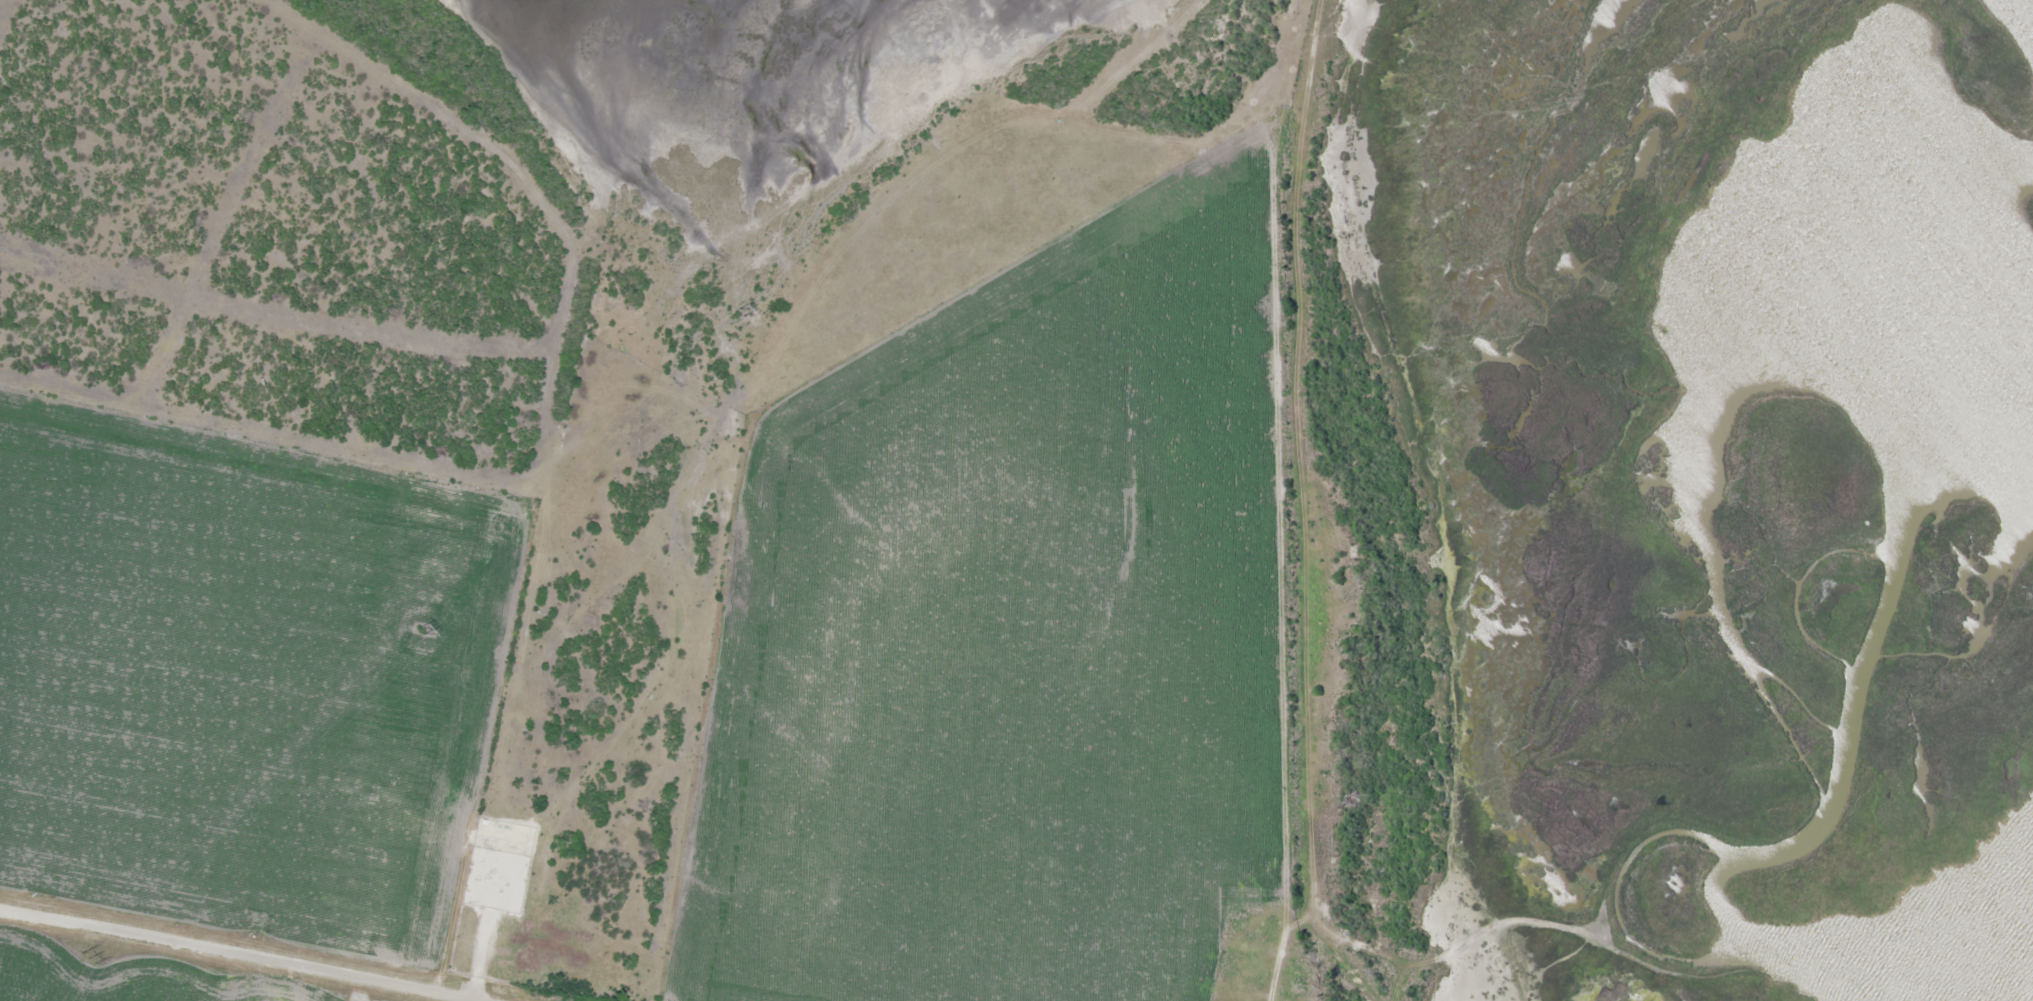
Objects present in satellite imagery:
power tower: (741, 312)
road: (1284, 500)
power tower: (421, 630)
building: (1250, 932)
road: (225, 954)
power tower: (89, 957)
building: (1241, 978)

